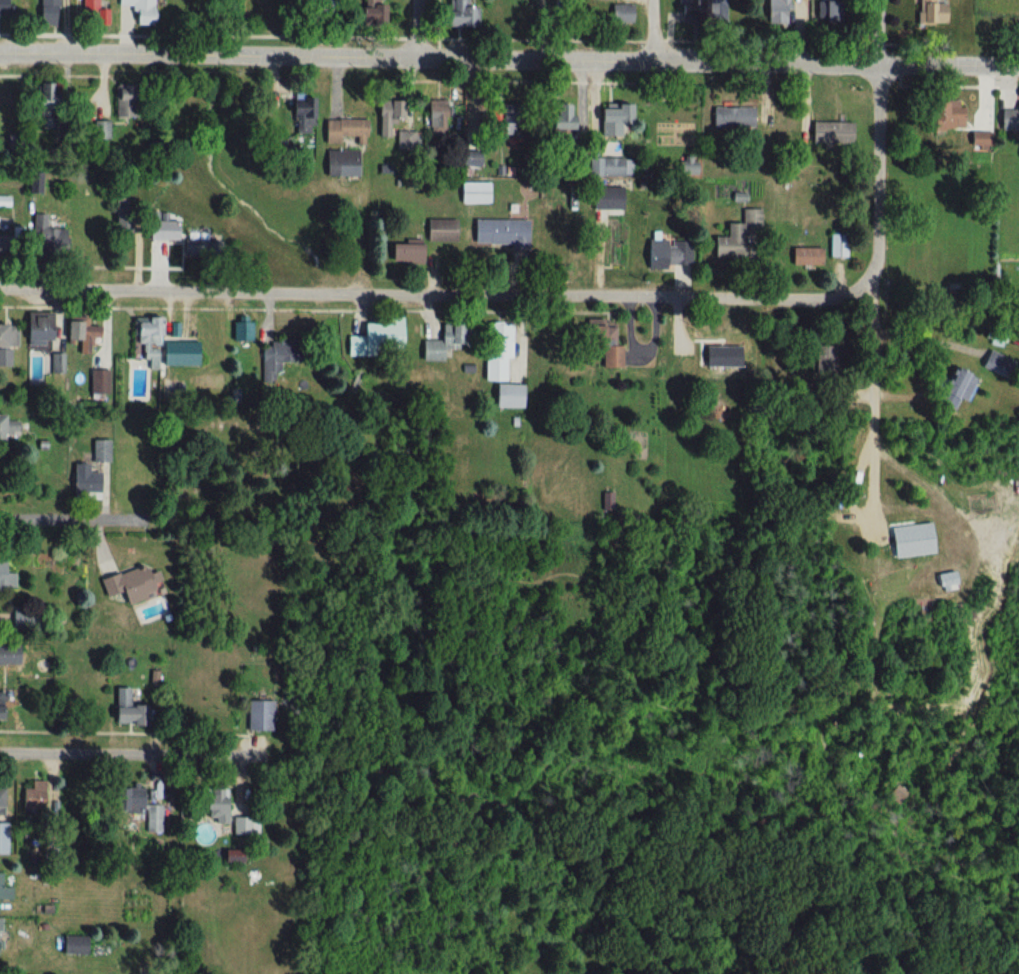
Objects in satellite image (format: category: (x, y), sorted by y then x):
building: (3, 6)
building: (137, 9)
building: (91, 11)
building: (701, 11)
building: (777, 11)
building: (47, 12)
building: (931, 12)
building: (369, 13)
building: (461, 13)
building: (622, 13)
building: (829, 14)
road: (421, 31)
road: (655, 33)
road: (879, 34)
road: (509, 63)
building: (39, 96)
building: (123, 101)
building: (300, 115)
building: (946, 115)
building: (387, 116)
building: (733, 117)
building: (502, 119)
building: (614, 119)
building: (1009, 119)
building: (559, 120)
building: (437, 121)
building: (100, 129)
building: (344, 130)
building: (832, 132)
building: (405, 140)
building: (980, 140)
building: (11, 141)
building: (340, 163)
building: (605, 167)
road: (880, 179)
building: (33, 182)
building: (475, 193)
building: (606, 199)
building: (162, 230)
building: (441, 231)
building: (501, 233)
building: (45, 234)
building: (735, 236)
building: (615, 243)
building: (839, 246)
building: (199, 249)
building: (404, 253)
building: (669, 254)
building: (806, 257)
road: (436, 292)
building: (36, 328)
building: (80, 332)
building: (239, 332)
building: (376, 337)
road: (927, 338)
building: (146, 341)
building: (7, 343)
building: (442, 343)
building: (602, 344)
building: (496, 350)
building: (178, 354)
building: (273, 359)
building: (826, 361)
building: (56, 363)
building: (998, 364)
building: (98, 382)
building: (957, 388)
road: (874, 394)
building: (509, 396)
building: (6, 427)
building: (100, 452)
building: (79, 479)
building: (607, 502)
road: (64, 518)
building: (5, 574)
building: (132, 585)
building: (8, 655)
building: (0, 707)
building: (126, 711)
building: (259, 716)
road: (134, 752)
building: (33, 796)
building: (1, 801)
building: (215, 804)
building: (137, 807)
building: (240, 826)
building: (2, 838)
building: (231, 856)
building: (4, 891)
building: (73, 944)

